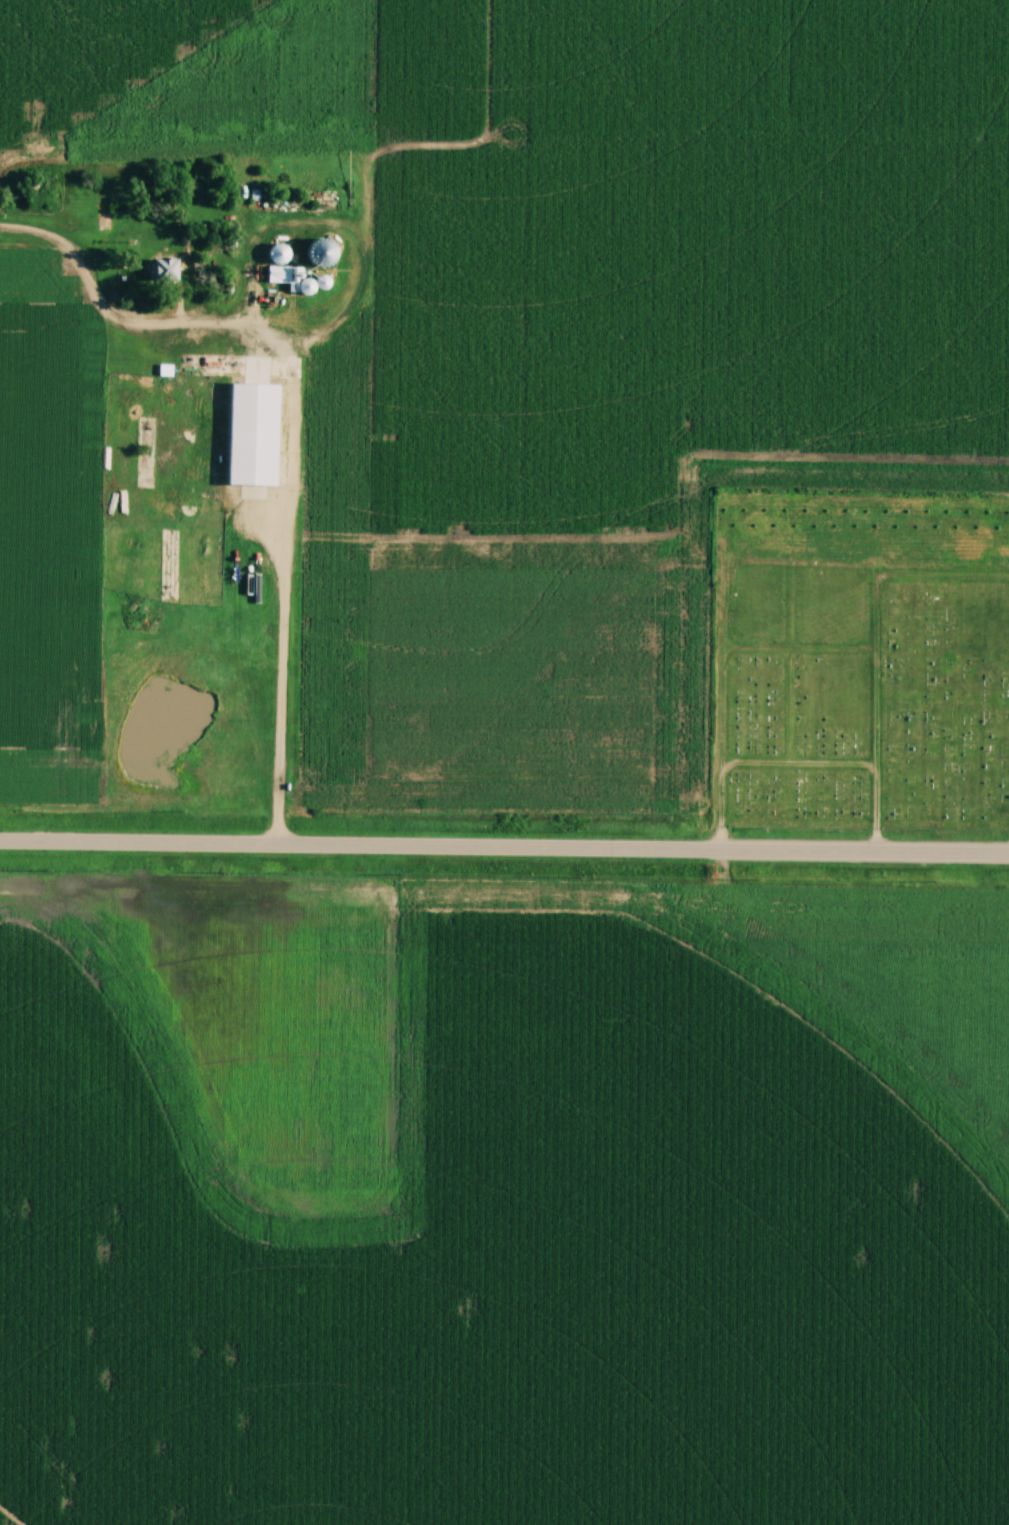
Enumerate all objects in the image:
building: (324, 251)
building: (280, 254)
building: (166, 269)
building: (292, 278)
crop: (588, 332)
road: (303, 409)
building: (253, 431)
road: (878, 650)
road: (761, 763)
road: (504, 849)
crop: (503, 1200)

